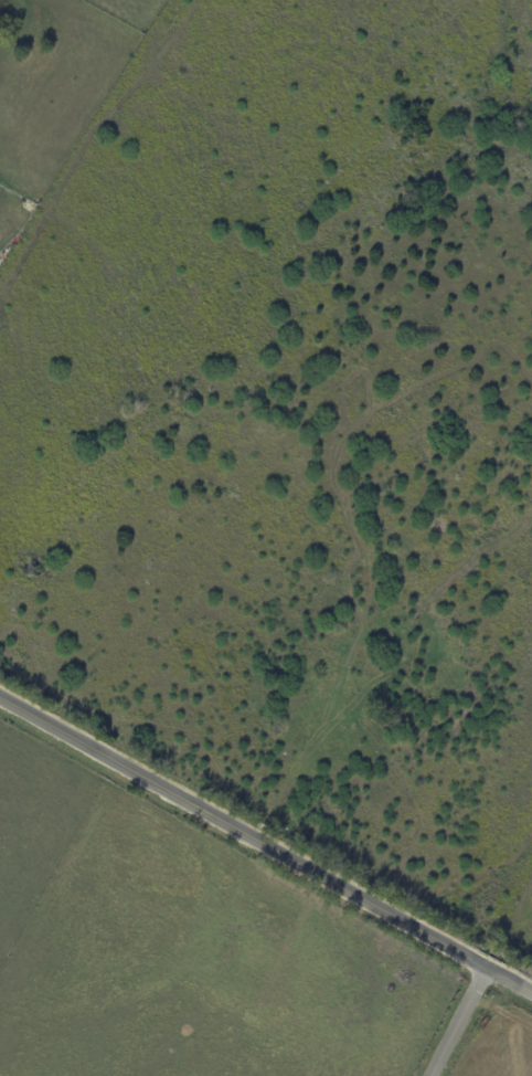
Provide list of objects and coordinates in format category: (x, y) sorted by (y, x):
building: (385, 720)
road: (266, 838)
road: (458, 1019)

